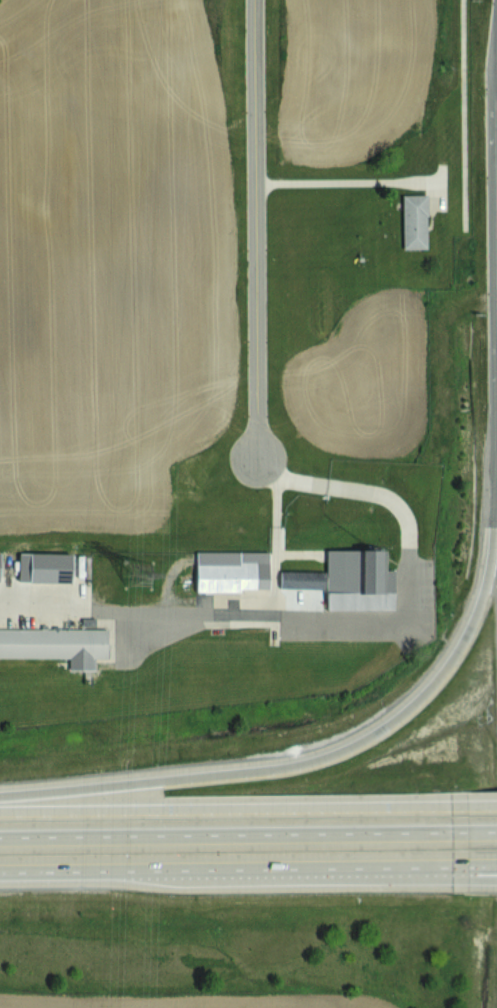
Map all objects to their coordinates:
road: (463, 115)
road: (339, 180)
building: (414, 221)
road: (254, 229)
crop: (110, 258)
road: (275, 546)
building: (44, 567)
building: (231, 570)
power tower: (140, 574)
building: (301, 578)
building: (358, 579)
road: (74, 607)
road: (403, 613)
building: (55, 643)
road: (345, 749)
road: (474, 806)
road: (225, 808)
road: (474, 832)
road: (226, 835)
road: (474, 870)
road: (225, 871)
road: (474, 872)

